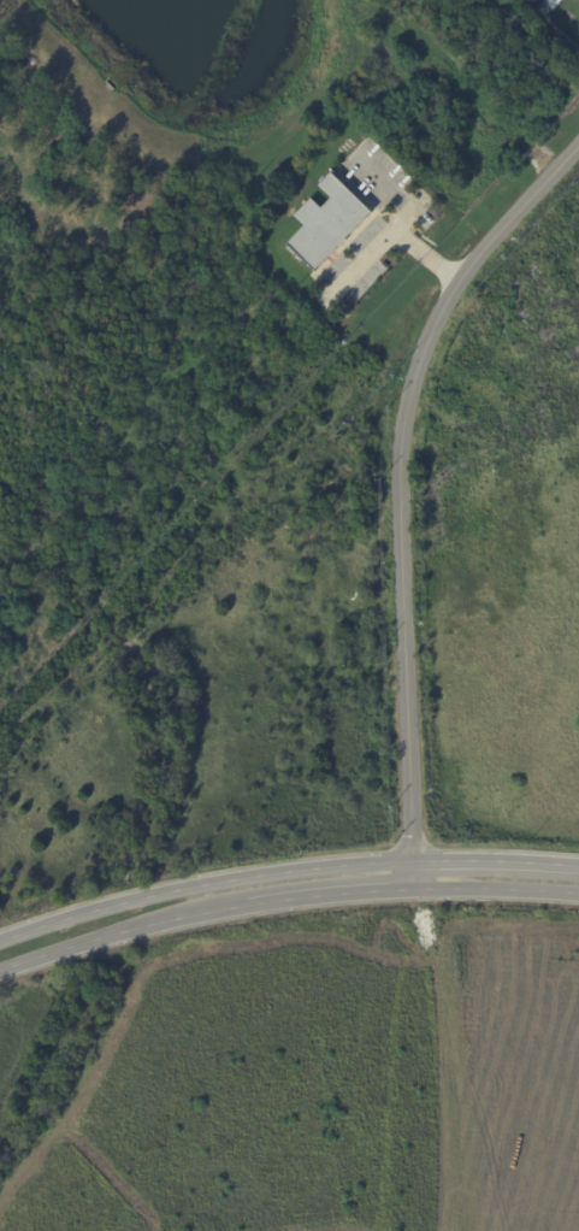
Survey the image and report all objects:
building: (533, 0)
building: (546, 5)
building: (578, 6)
road: (395, 195)
building: (329, 223)
road: (395, 234)
road: (400, 488)
road: (496, 860)
road: (202, 880)
road: (497, 891)
road: (203, 913)

